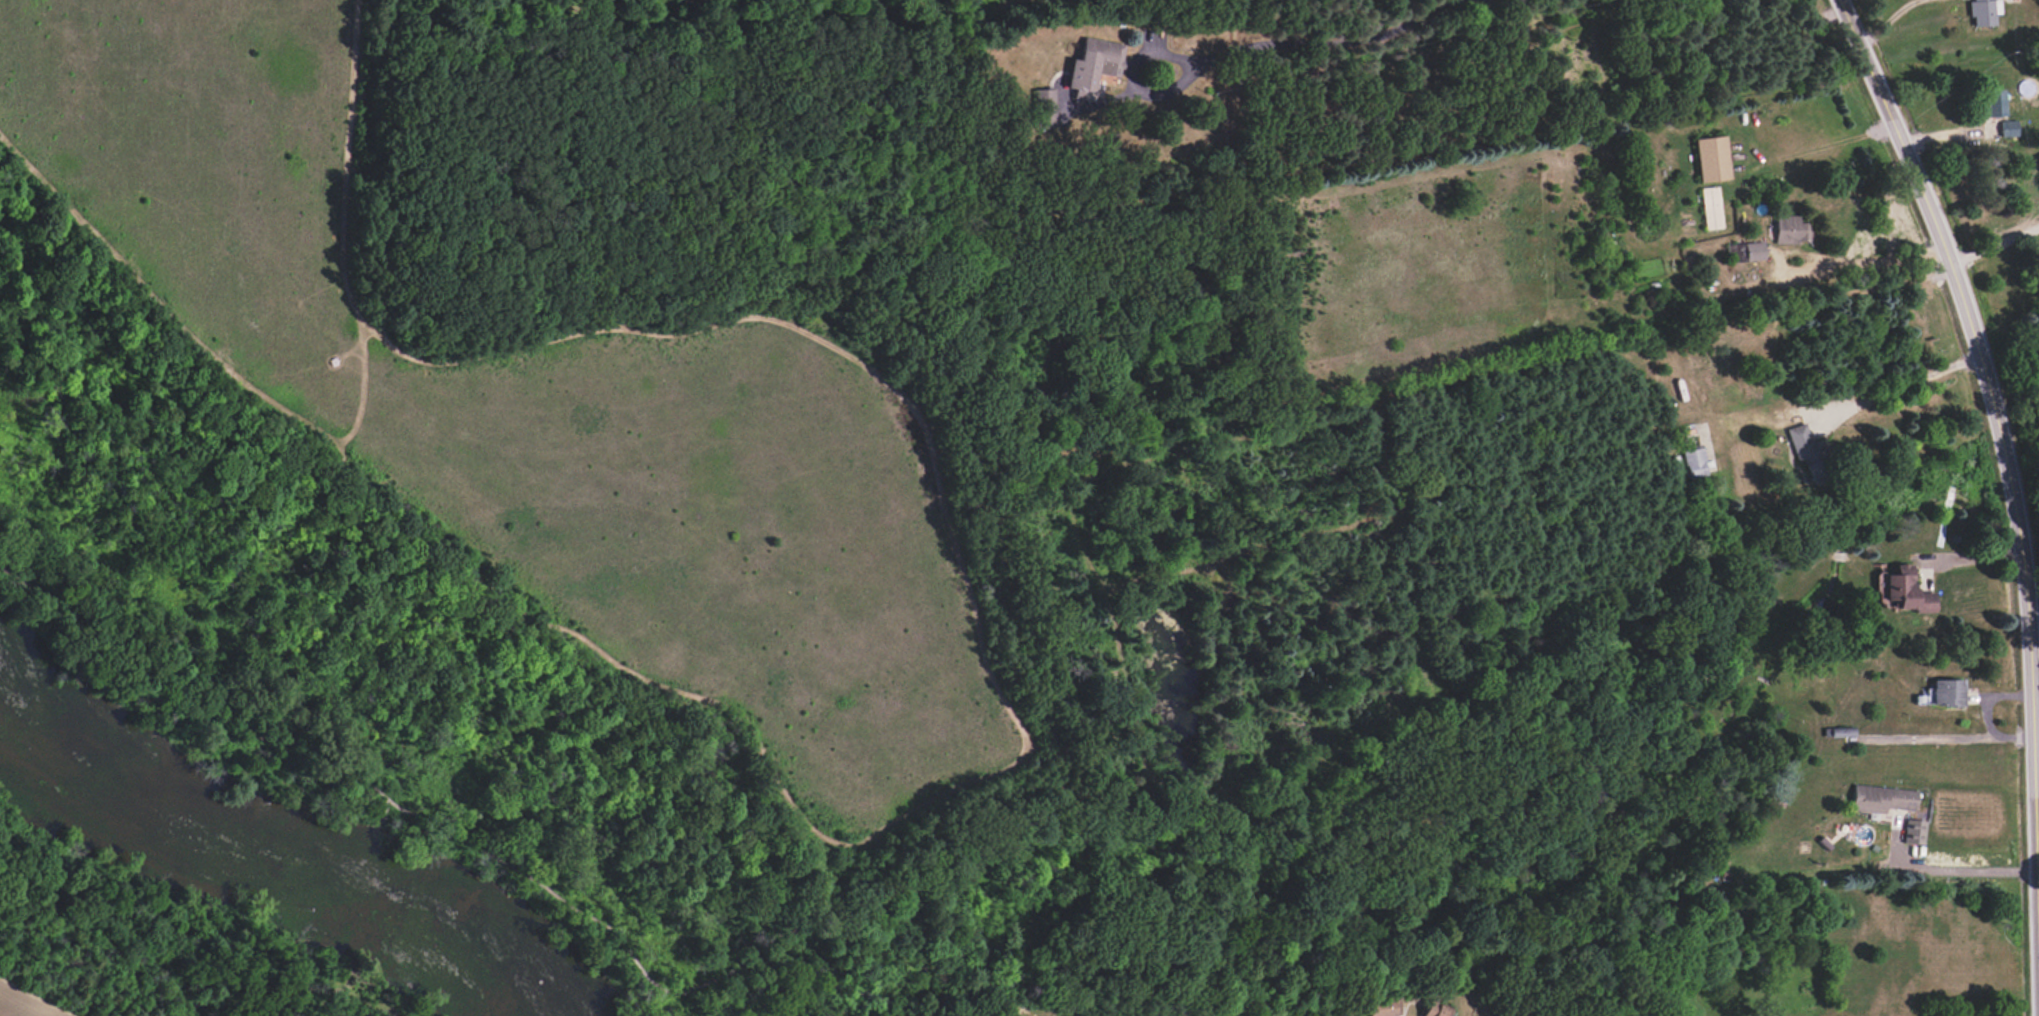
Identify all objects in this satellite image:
building: (1983, 11)
road: (1329, 40)
building: (1094, 63)
road: (1125, 77)
building: (1992, 103)
building: (1043, 108)
building: (2007, 128)
road: (1831, 143)
building: (1711, 158)
building: (1710, 207)
building: (1791, 229)
building: (1745, 251)
road: (1996, 252)
road: (1860, 263)
road: (1903, 385)
park: (529, 400)
road: (1998, 425)
building: (1806, 452)
building: (1694, 462)
road: (1971, 566)
building: (1902, 590)
building: (1947, 692)
road: (2036, 701)
building: (1880, 798)
building: (1913, 831)
river: (224, 843)
road: (1954, 879)
building: (1382, 1007)
building: (1432, 1010)

